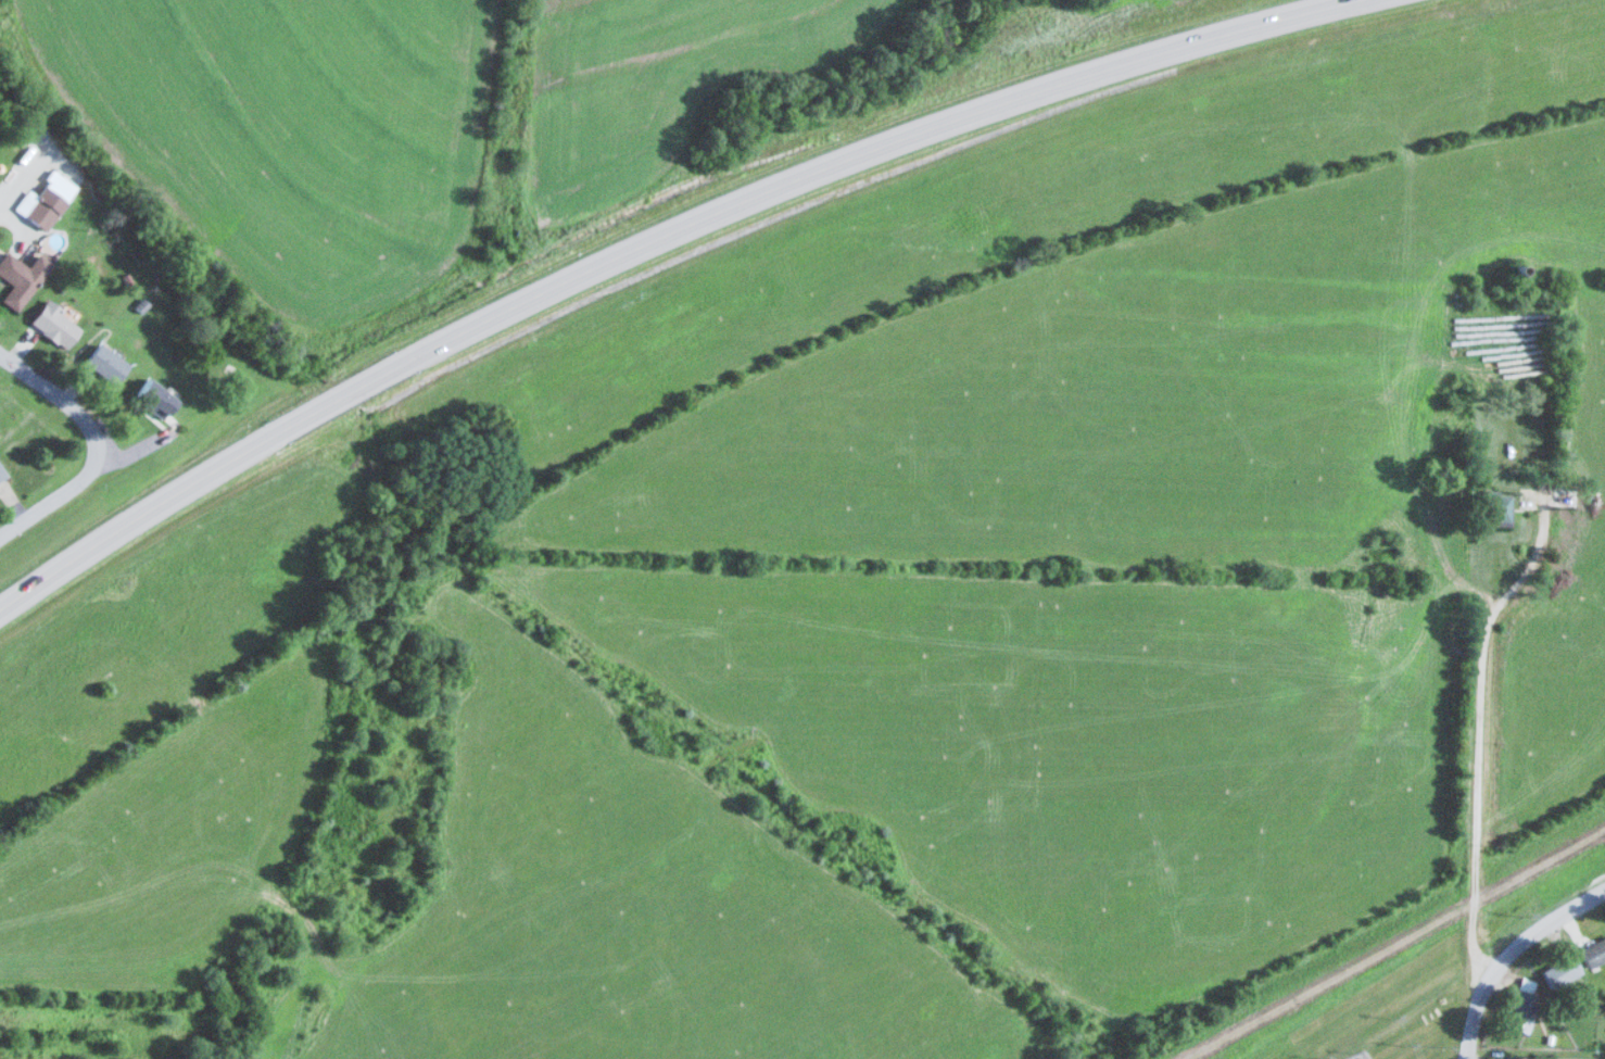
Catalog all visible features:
road: (18, 169)
building: (48, 200)
road: (646, 241)
building: (20, 277)
building: (54, 325)
building: (105, 364)
building: (154, 399)
road: (97, 445)
building: (2, 475)
building: (1558, 499)
building: (1494, 509)
road: (1479, 770)
road: (1507, 951)
building: (1594, 951)
building: (1562, 970)
building: (1524, 1010)
building: (1514, 1056)

